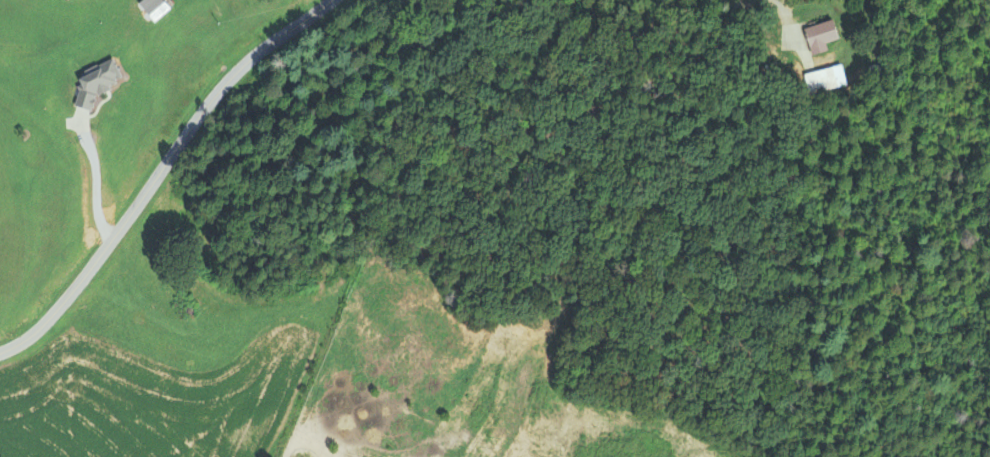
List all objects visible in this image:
road: (781, 7)
building: (817, 35)
building: (824, 79)
road: (159, 171)
road: (96, 181)

